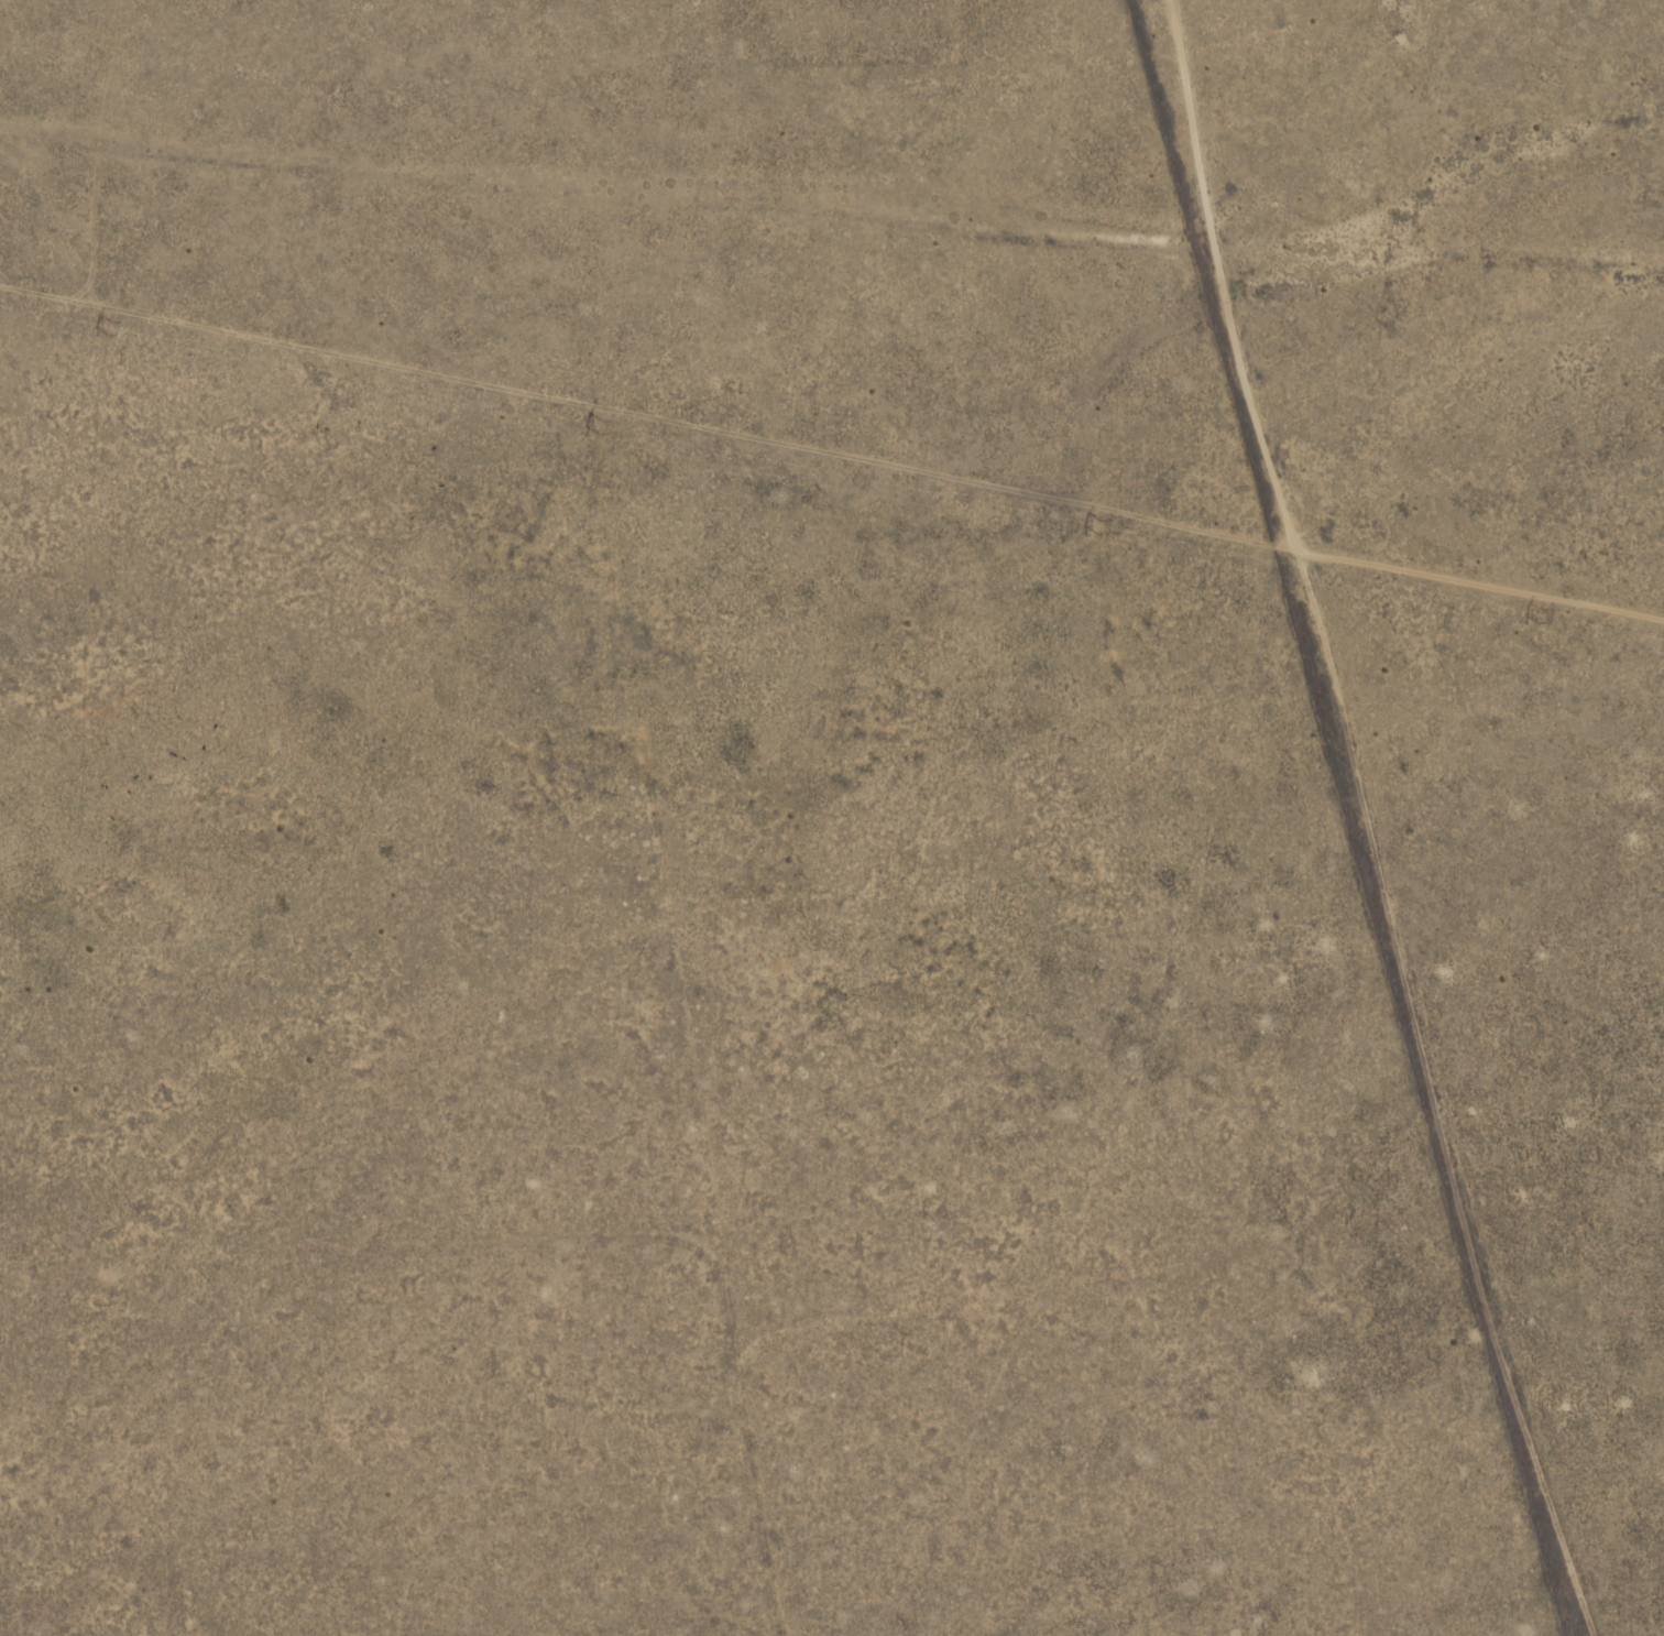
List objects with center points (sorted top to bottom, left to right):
power tower: (108, 327)
power tower: (600, 428)
power tower: (1097, 526)
power tower: (1536, 614)

